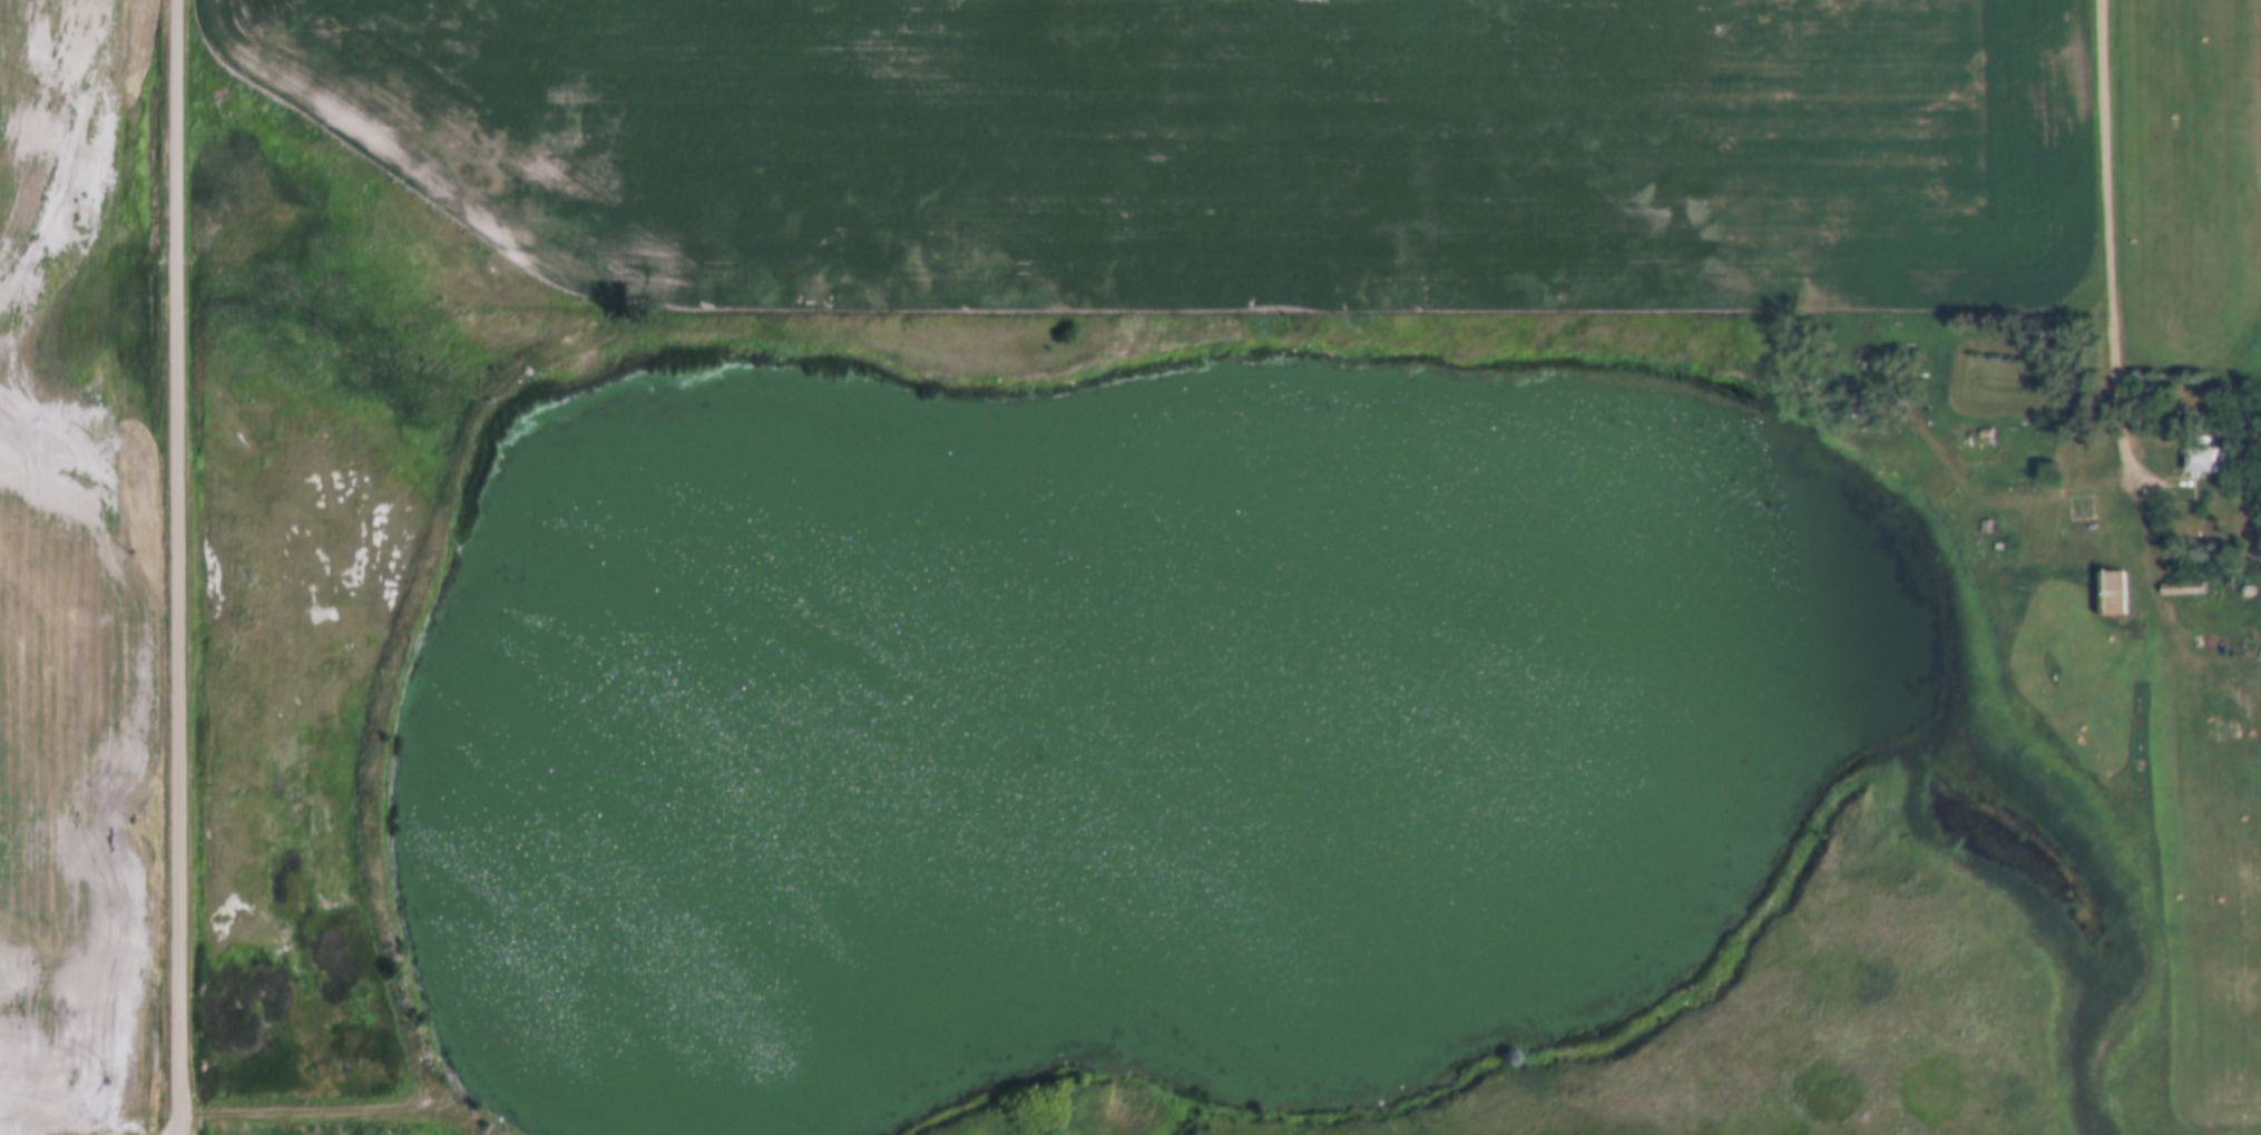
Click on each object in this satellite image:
road: (2115, 248)
building: (1979, 421)
building: (2193, 449)
building: (2198, 461)
building: (1979, 515)
building: (1993, 534)
road: (184, 567)
building: (2175, 576)
building: (2240, 579)
silo: (2240, 579)
building: (2104, 580)
building: (2180, 591)

